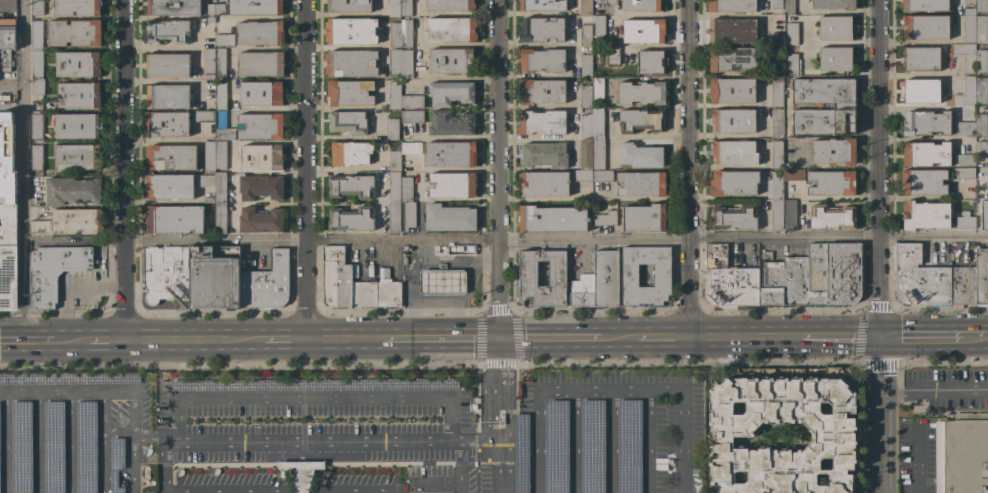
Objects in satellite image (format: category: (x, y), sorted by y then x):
building: (969, 2)
building: (776, 4)
building: (834, 4)
building: (349, 5)
building: (451, 5)
building: (542, 5)
building: (641, 5)
building: (924, 5)
building: (732, 6)
building: (788, 6)
building: (981, 6)
building: (37, 7)
building: (76, 7)
building: (173, 7)
building: (254, 7)
building: (585, 7)
building: (394, 8)
building: (406, 8)
building: (211, 9)
building: (219, 10)
road: (612, 12)
road: (348, 13)
road: (650, 14)
building: (210, 20)
building: (599, 26)
building: (969, 26)
building: (925, 27)
building: (836, 28)
building: (452, 29)
building: (541, 29)
building: (981, 30)
building: (168, 31)
building: (351, 31)
building: (644, 31)
building: (732, 31)
building: (74, 33)
building: (260, 33)
building: (406, 33)
building: (7, 34)
building: (36, 34)
building: (395, 34)
building: (792, 34)
building: (585, 35)
building: (224, 40)
road: (459, 44)
road: (159, 45)
road: (355, 47)
building: (597, 53)
building: (613, 55)
building: (963, 55)
building: (732, 59)
building: (836, 59)
building: (921, 59)
building: (5, 60)
building: (208, 60)
building: (542, 60)
building: (792, 60)
building: (219, 61)
building: (395, 61)
building: (450, 61)
building: (651, 62)
building: (981, 62)
building: (36, 63)
building: (351, 63)
building: (77, 64)
building: (261, 64)
building: (406, 64)
building: (167, 65)
building: (586, 66)
road: (917, 74)
road: (431, 78)
building: (37, 86)
building: (597, 88)
building: (541, 91)
building: (732, 91)
building: (921, 91)
building: (965, 92)
building: (981, 92)
building: (261, 93)
building: (349, 93)
building: (451, 93)
building: (641, 93)
building: (776, 93)
building: (78, 95)
building: (394, 95)
building: (220, 96)
building: (167, 97)
building: (585, 97)
building: (411, 101)
road: (546, 106)
building: (844, 107)
road: (258, 108)
building: (202, 116)
building: (412, 116)
building: (641, 120)
building: (348, 121)
building: (733, 121)
building: (541, 122)
building: (597, 123)
building: (776, 123)
building: (926, 123)
building: (167, 124)
building: (451, 124)
building: (36, 125)
building: (586, 125)
building: (77, 126)
building: (260, 126)
building: (972, 126)
building: (392, 128)
building: (224, 134)
road: (648, 137)
building: (981, 146)
building: (411, 148)
building: (834, 151)
building: (734, 152)
building: (350, 153)
building: (450, 154)
building: (585, 154)
building: (597, 154)
building: (776, 154)
building: (925, 154)
building: (209, 155)
building: (220, 155)
building: (544, 155)
building: (639, 155)
building: (36, 157)
building: (77, 157)
building: (170, 157)
building: (261, 157)
building: (7, 158)
building: (964, 160)
building: (394, 161)
road: (878, 167)
road: (498, 168)
road: (687, 168)
road: (23, 169)
road: (123, 169)
road: (305, 169)
building: (963, 173)
building: (793, 174)
building: (582, 175)
building: (602, 175)
building: (205, 180)
building: (923, 182)
building: (641, 183)
building: (733, 183)
building: (832, 183)
building: (543, 184)
building: (452, 185)
building: (168, 186)
building: (351, 186)
building: (777, 186)
building: (220, 187)
building: (260, 187)
building: (394, 187)
building: (406, 189)
building: (72, 191)
building: (208, 200)
building: (984, 214)
building: (408, 215)
building: (776, 215)
building: (789, 215)
building: (925, 215)
building: (394, 217)
building: (734, 217)
building: (831, 217)
building: (220, 218)
building: (449, 218)
building: (605, 218)
building: (644, 218)
building: (351, 219)
building: (552, 219)
building: (174, 220)
building: (260, 220)
building: (964, 220)
building: (71, 222)
road: (505, 241)
road: (419, 251)
building: (8, 255)
road: (420, 261)
building: (54, 271)
building: (165, 273)
building: (383, 274)
building: (214, 277)
building: (813, 277)
building: (336, 278)
building: (605, 278)
building: (981, 278)
building: (629, 279)
building: (920, 279)
building: (442, 281)
building: (528, 281)
building: (729, 281)
building: (266, 283)
building: (963, 286)
road: (72, 290)
building: (582, 292)
building: (405, 293)
building: (364, 294)
building: (388, 294)
road: (460, 303)
road: (460, 320)
road: (923, 333)
road: (978, 333)
traffic signals: (878, 334)
road: (839, 335)
road: (549, 336)
road: (617, 336)
road: (661, 336)
road: (743, 336)
road: (442, 337)
traffic signals: (499, 337)
road: (196, 338)
road: (287, 338)
road: (345, 338)
road: (28, 339)
road: (72, 339)
road: (105, 339)
road: (878, 362)
building: (313, 384)
road: (484, 388)
road: (891, 390)
road: (945, 390)
road: (560, 395)
road: (3, 397)
road: (54, 397)
road: (116, 397)
road: (337, 399)
road: (508, 414)
building: (501, 420)
flagpole: (251, 424)
building: (834, 428)
road: (117, 433)
parking lot: (612, 438)
road: (880, 441)
road: (319, 443)
road: (610, 443)
road: (648, 443)
road: (683, 443)
road: (572, 444)
road: (6, 445)
road: (38, 445)
road: (70, 445)
road: (101, 445)
road: (132, 445)
building: (555, 446)
building: (591, 446)
building: (627, 446)
building: (20, 447)
building: (52, 447)
building: (84, 447)
building: (520, 453)
building: (962, 454)
road: (917, 460)
road: (164, 463)
building: (115, 465)
road: (491, 468)
building: (301, 473)
road: (433, 480)
road: (458, 486)
road: (262, 492)
road: (301, 492)
road: (351, 492)
road: (393, 492)

